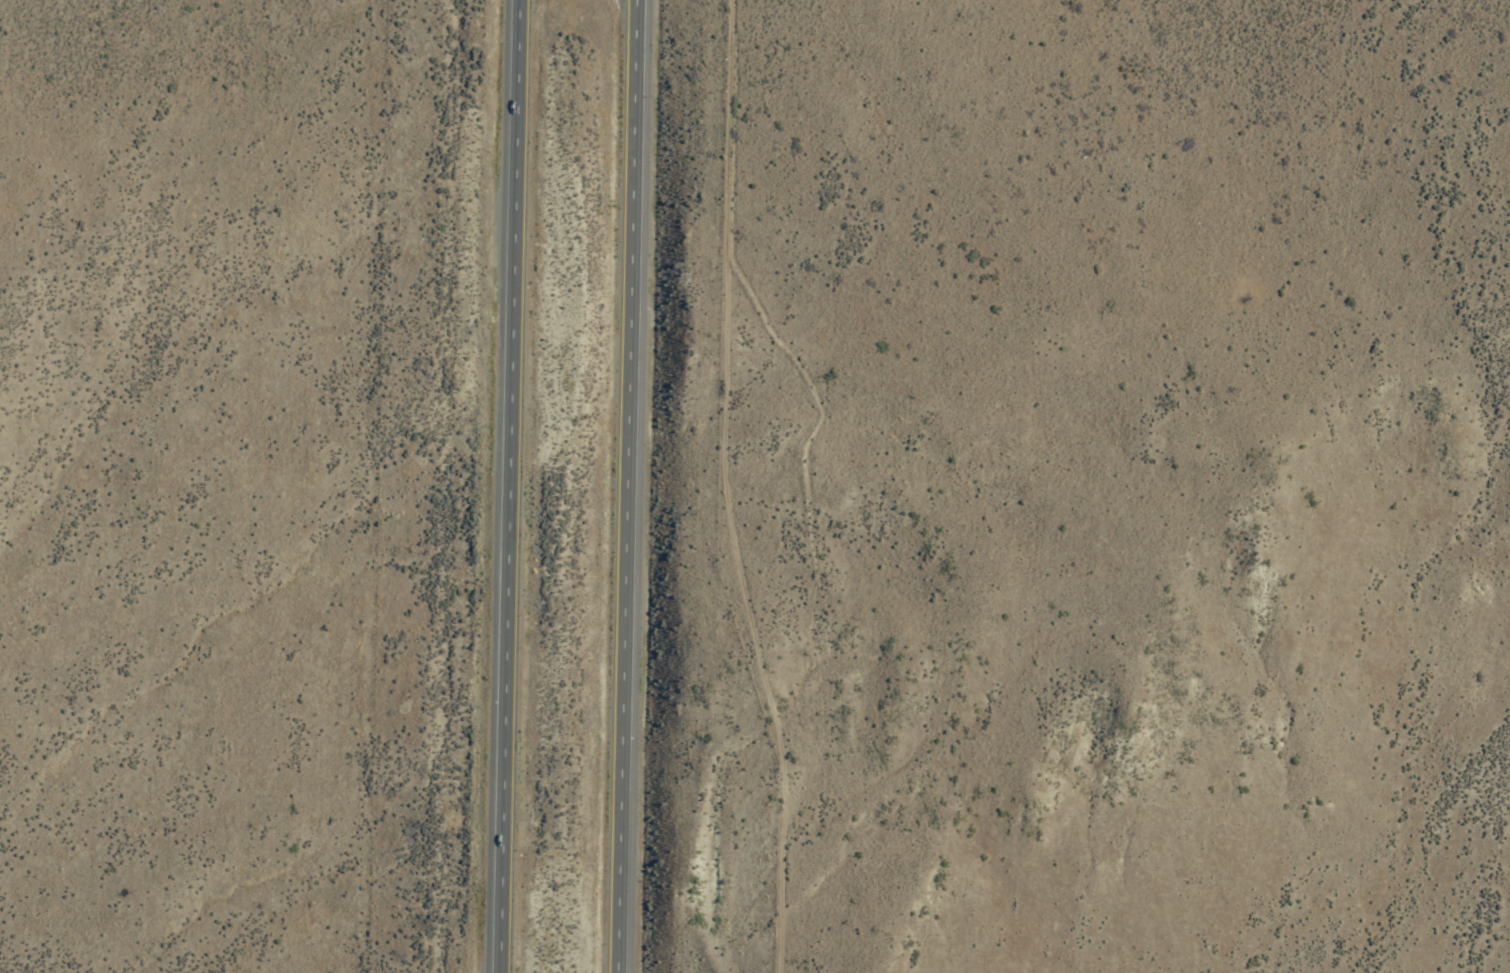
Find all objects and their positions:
road: (505, 486)
road: (627, 486)
road: (723, 489)
crop: (1507, 971)

